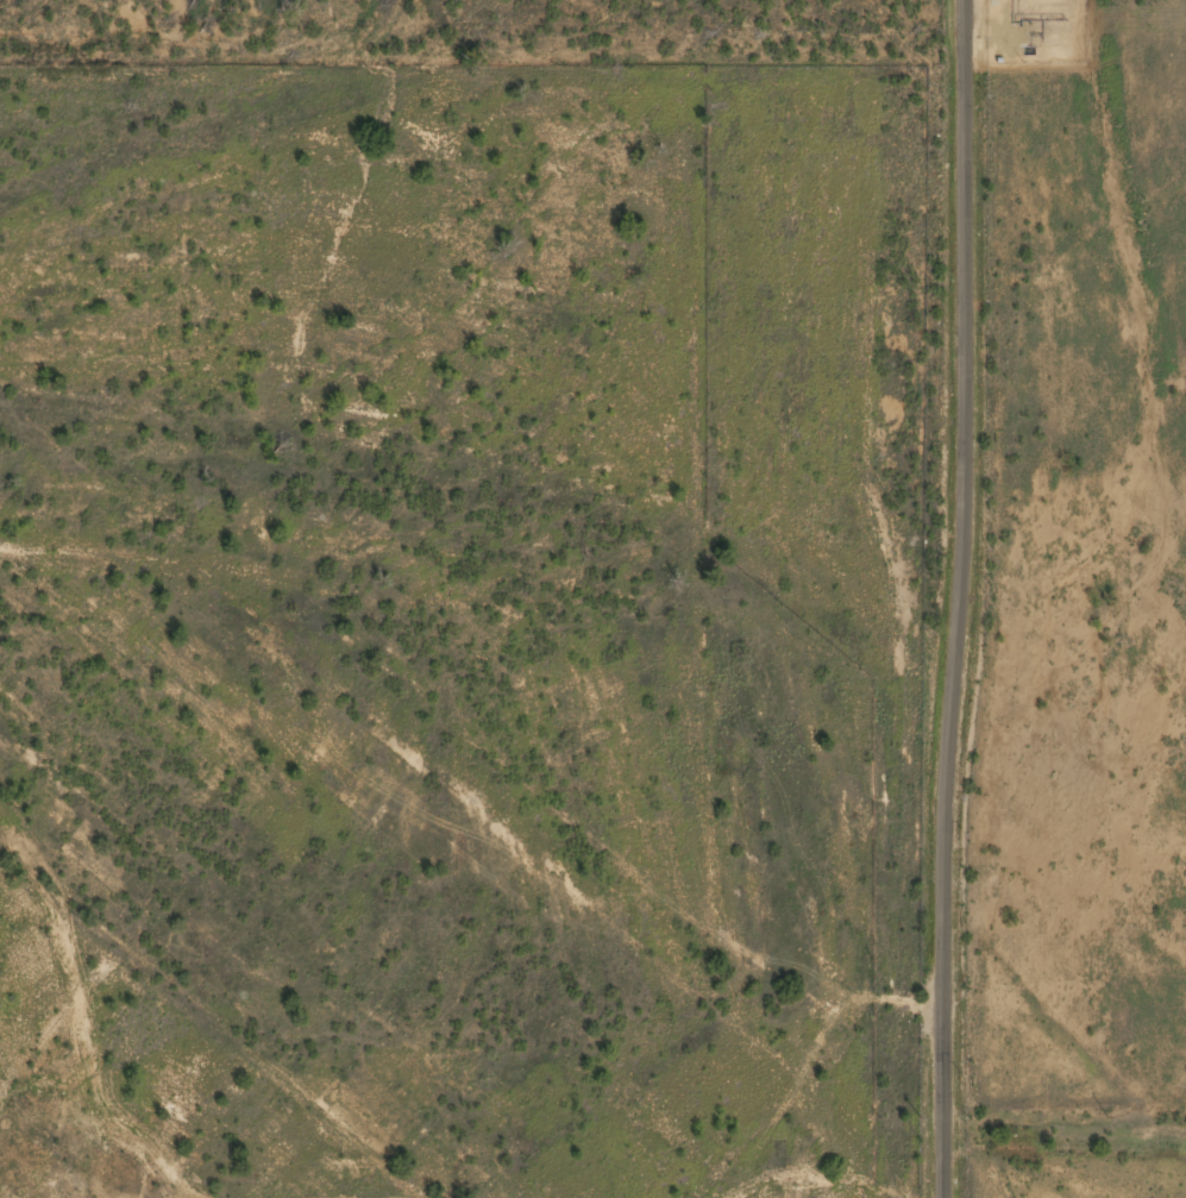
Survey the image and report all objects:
road: (964, 36)
road: (954, 635)

